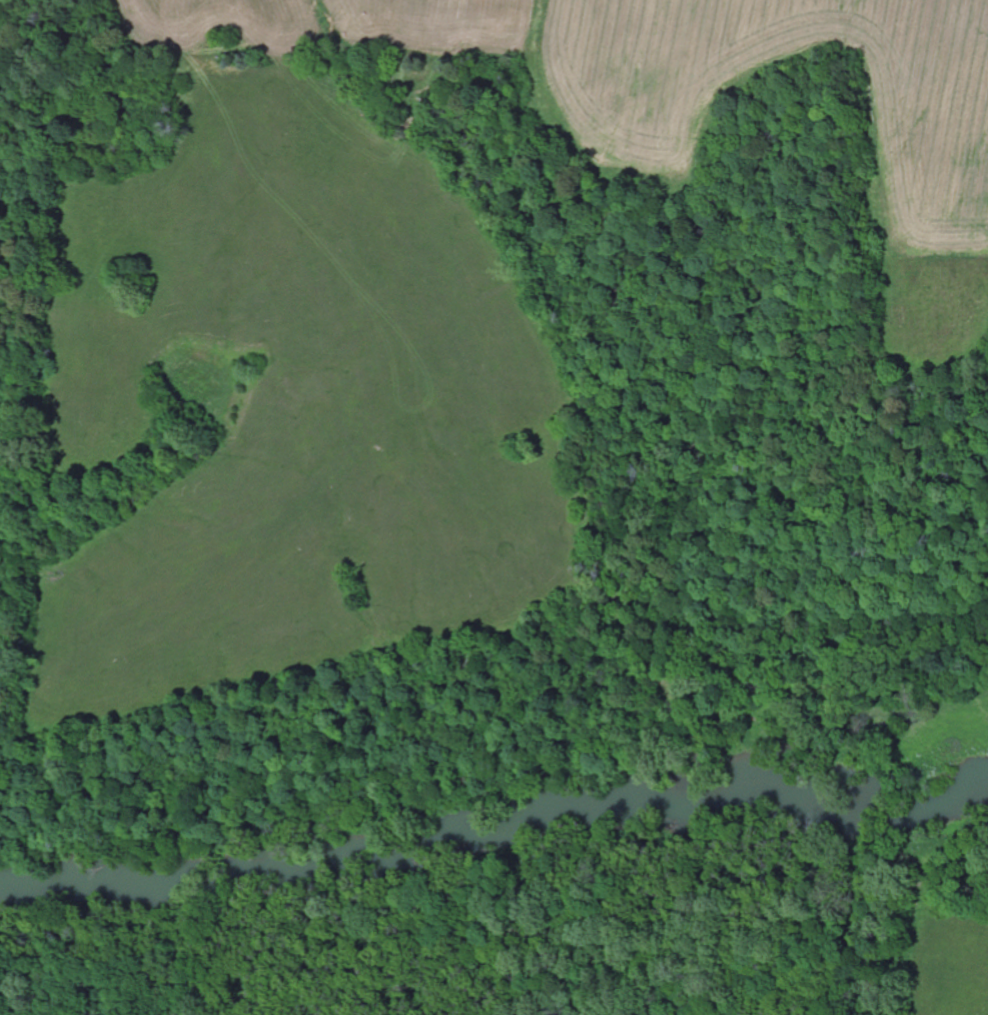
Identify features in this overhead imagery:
river: (503, 829)

